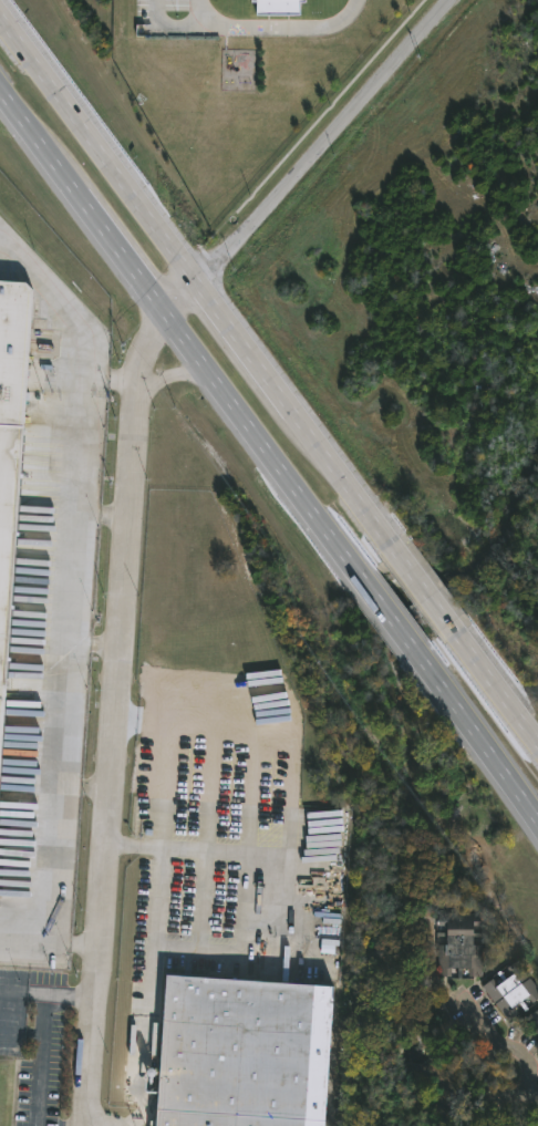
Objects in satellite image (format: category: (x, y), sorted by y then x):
building: (278, 7)
road: (254, 28)
road: (279, 196)
road: (60, 301)
road: (177, 381)
road: (269, 382)
building: (12, 403)
road: (270, 452)
road: (110, 509)
road: (84, 642)
road: (102, 643)
road: (168, 756)
road: (213, 764)
road: (112, 766)
road: (251, 769)
road: (287, 772)
road: (90, 786)
road: (134, 847)
road: (282, 856)
road: (77, 942)
building: (457, 942)
road: (28, 946)
building: (509, 989)
road: (46, 991)
road: (48, 1014)
building: (532, 1020)
road: (144, 1039)
road: (511, 1047)
building: (245, 1051)
road: (44, 1057)

